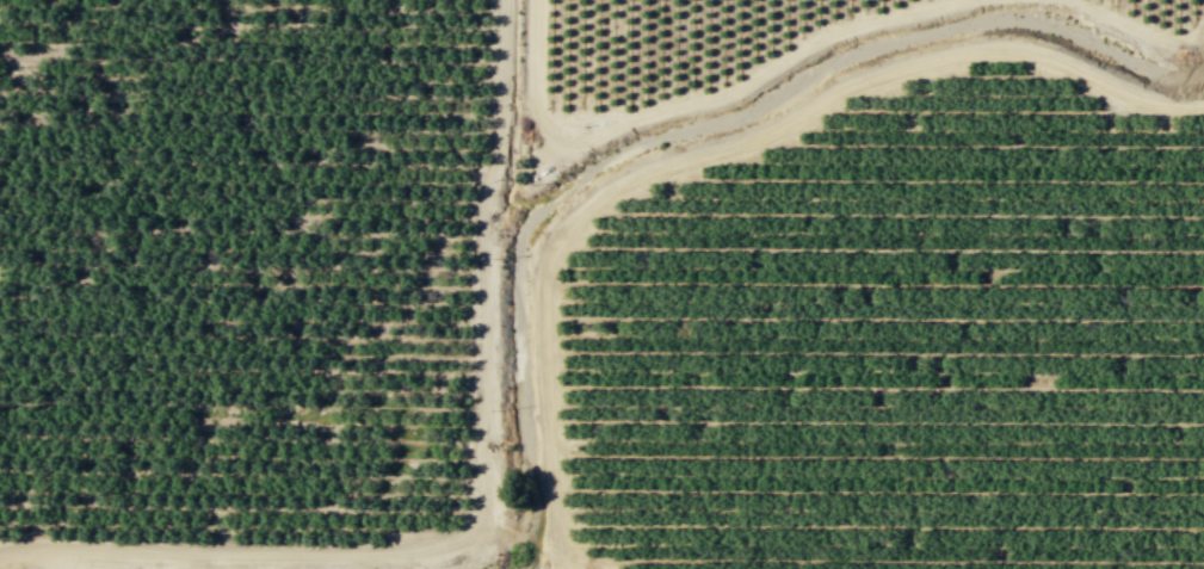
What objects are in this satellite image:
road: (1137, 27)
road: (689, 103)
road: (710, 153)
road: (483, 502)

